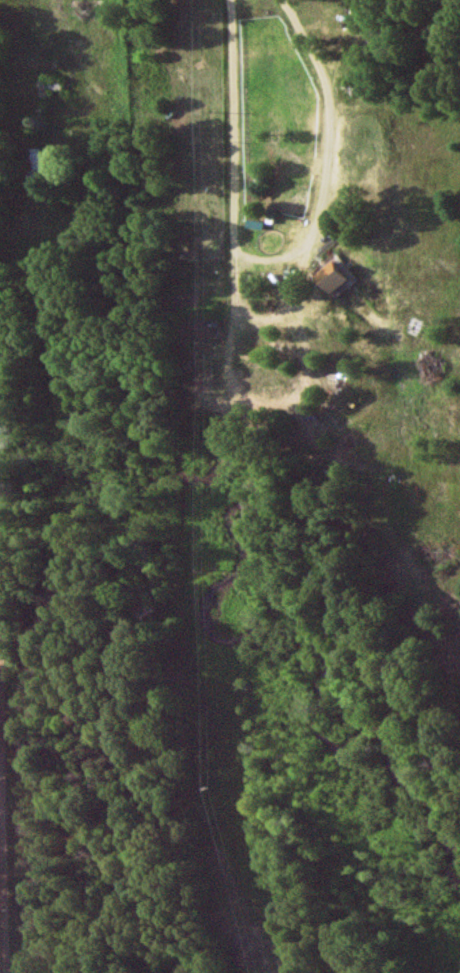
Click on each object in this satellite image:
building: (32, 158)
road: (236, 193)
building: (329, 278)
road: (1, 931)

